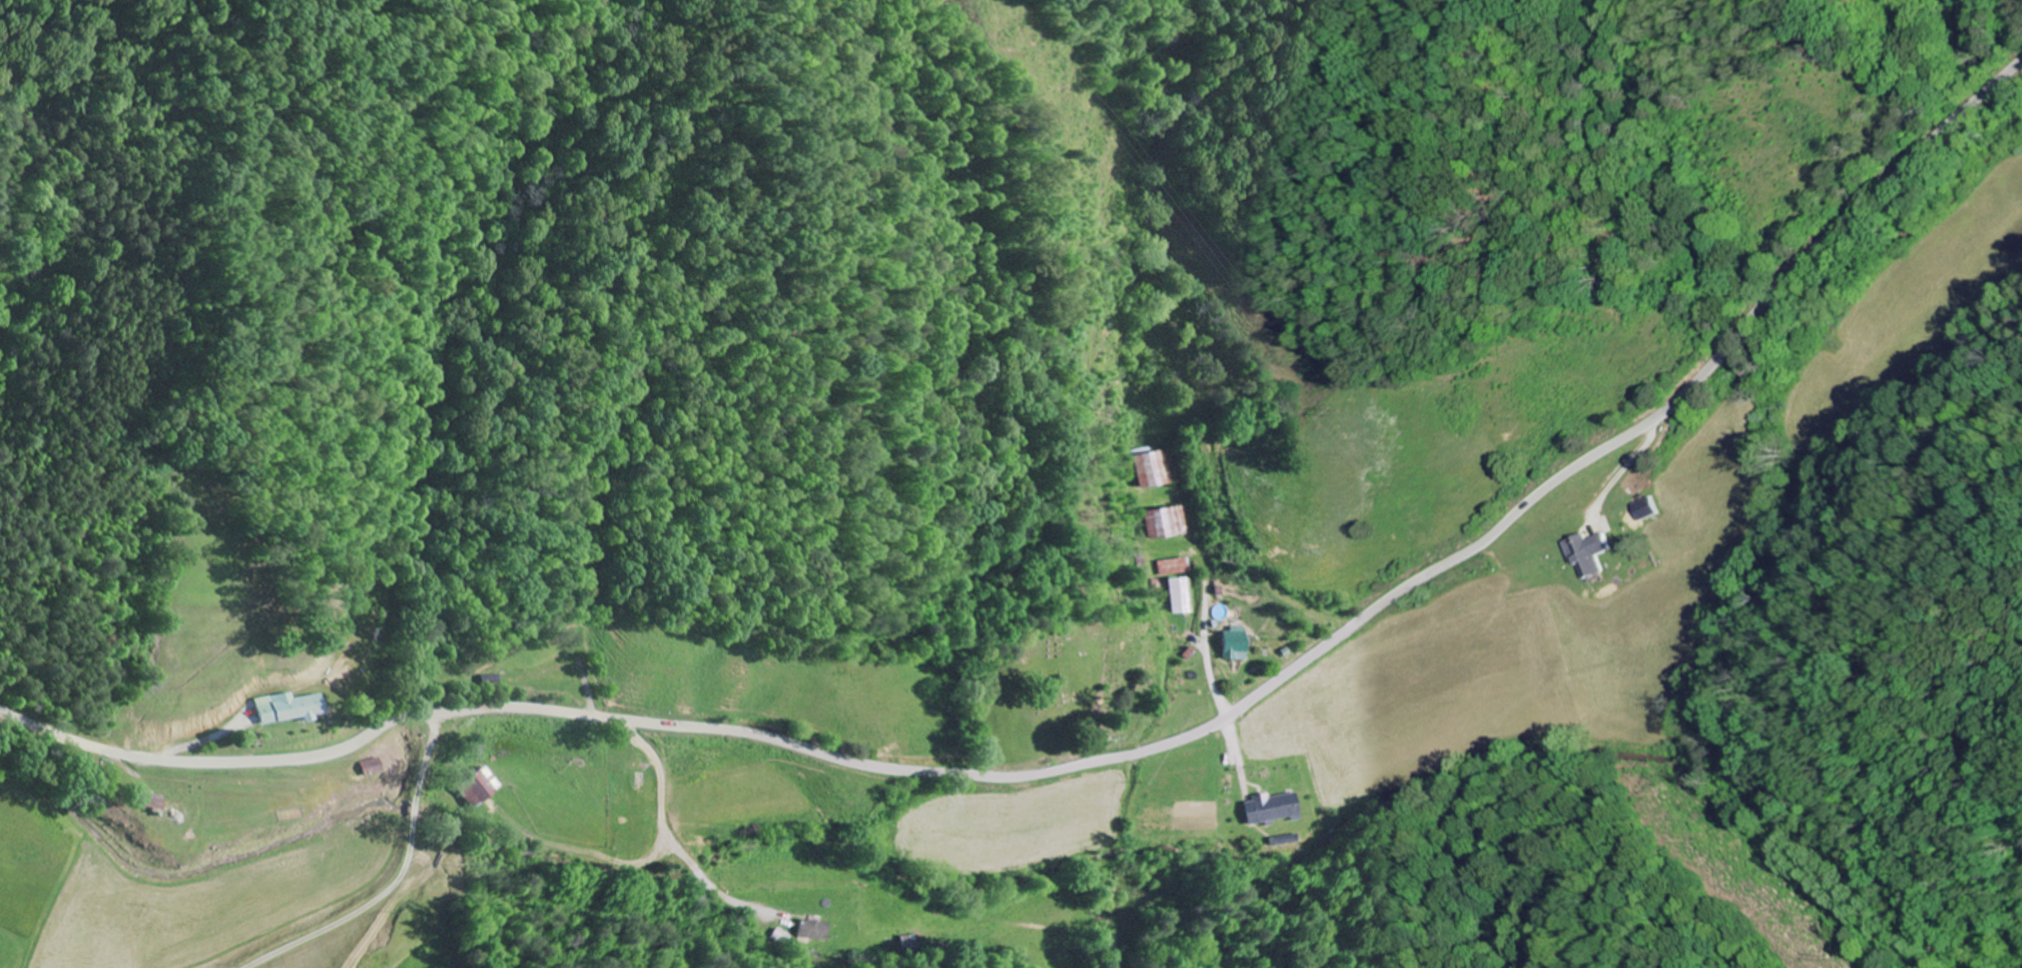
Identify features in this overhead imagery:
building: (1153, 468)
building: (1645, 508)
road: (1732, 519)
building: (1164, 521)
building: (1587, 552)
building: (1173, 566)
building: (1175, 595)
building: (1232, 643)
park: (1048, 679)
building: (282, 707)
road: (1121, 756)
road: (381, 780)
building: (475, 787)
road: (1338, 801)
building: (1271, 808)
road: (361, 872)
building: (816, 929)

